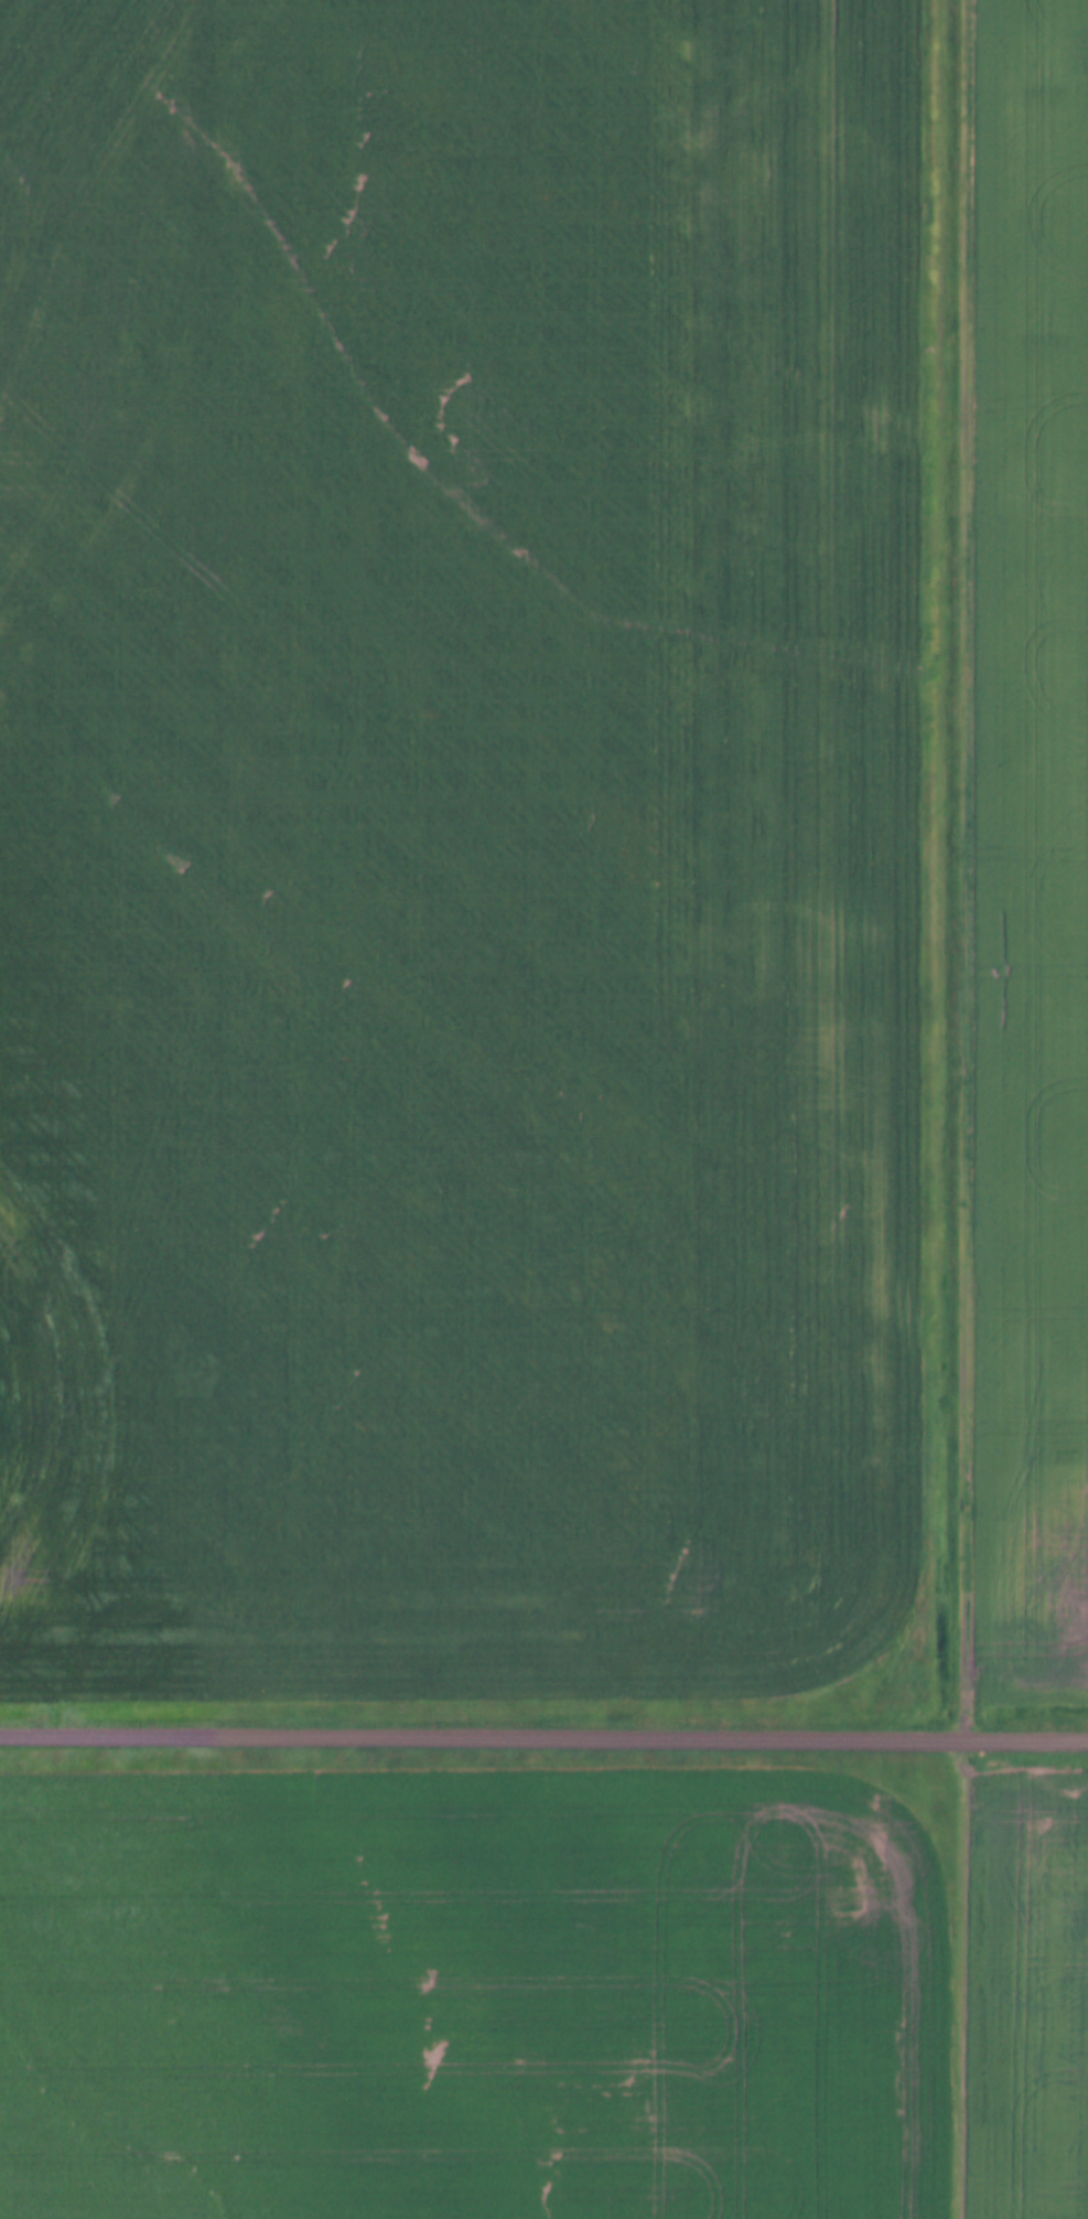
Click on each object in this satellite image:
road: (946, 1109)

